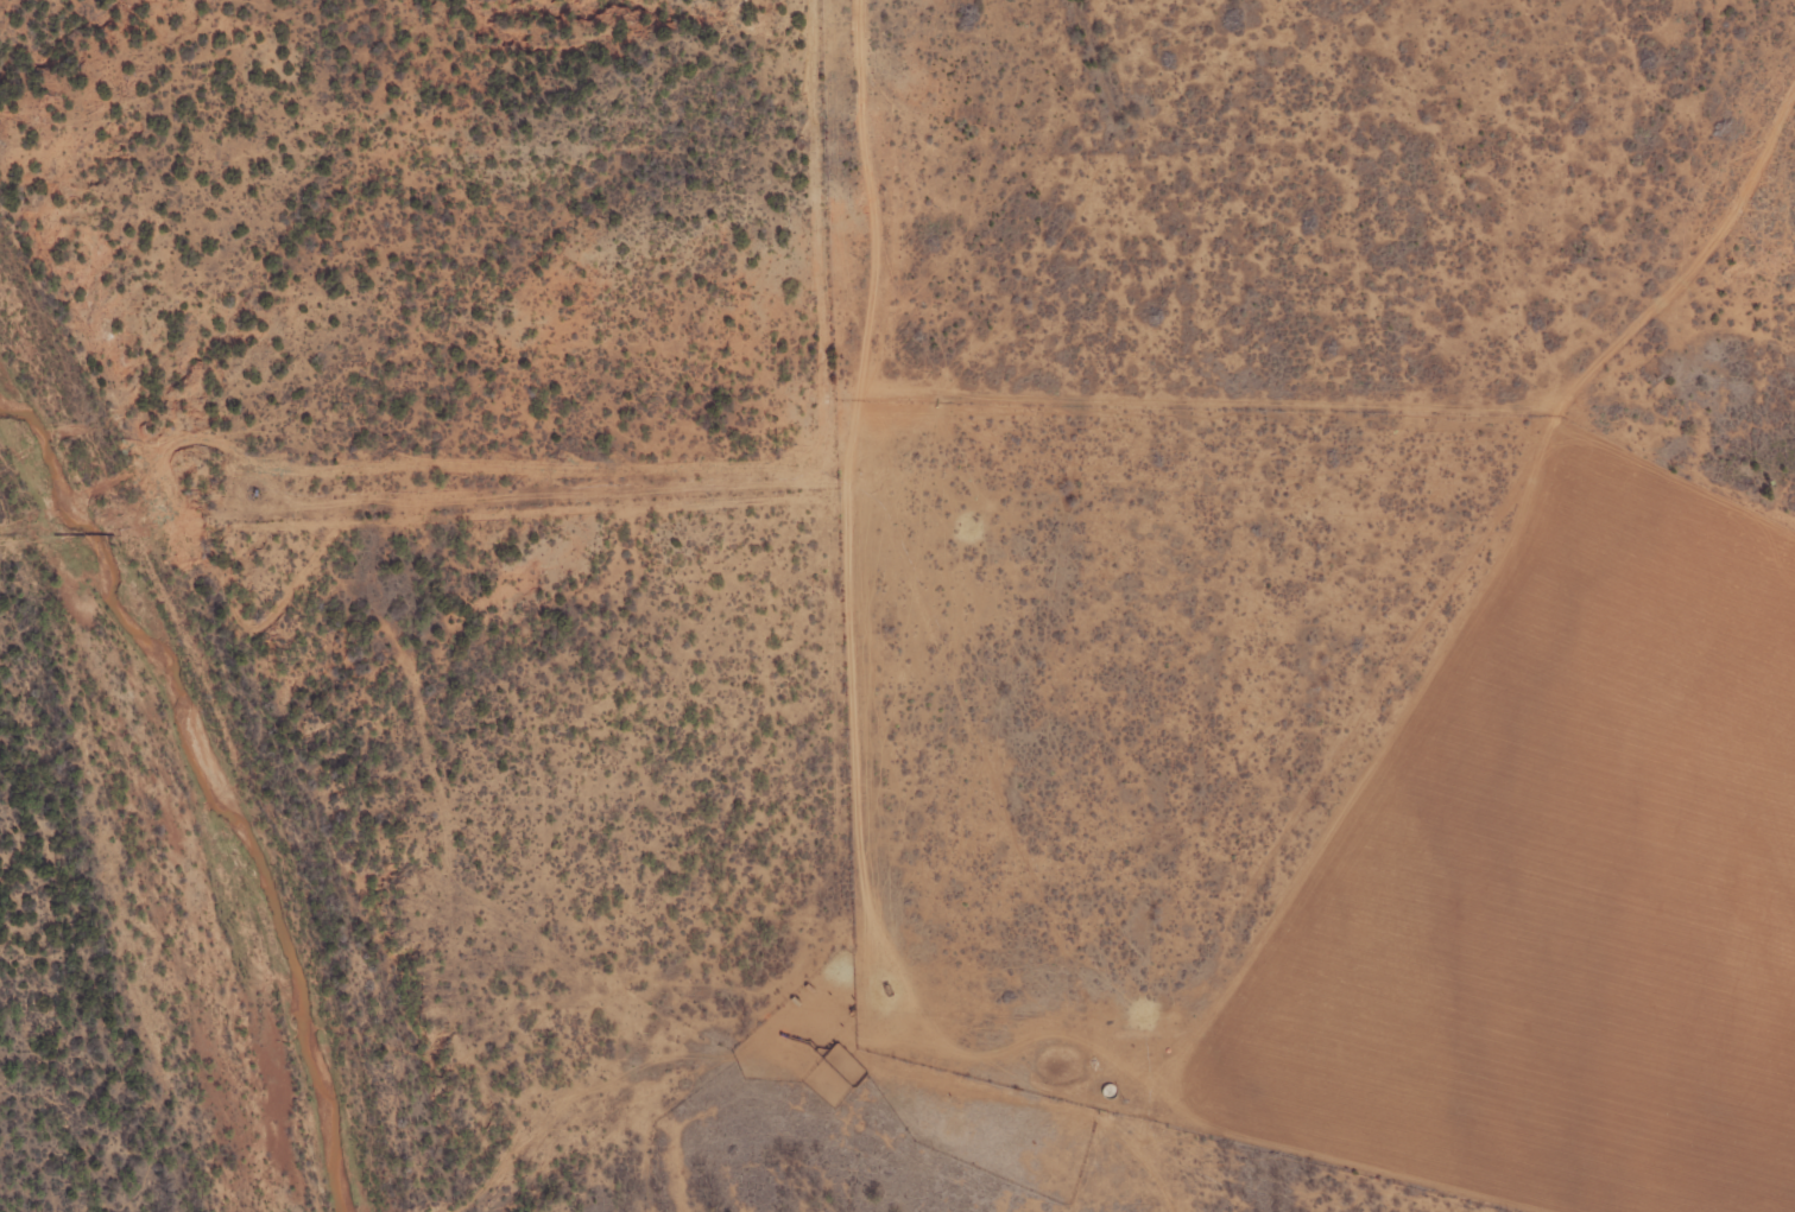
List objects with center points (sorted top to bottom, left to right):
river: (198, 793)
road: (857, 846)
road: (689, 897)

